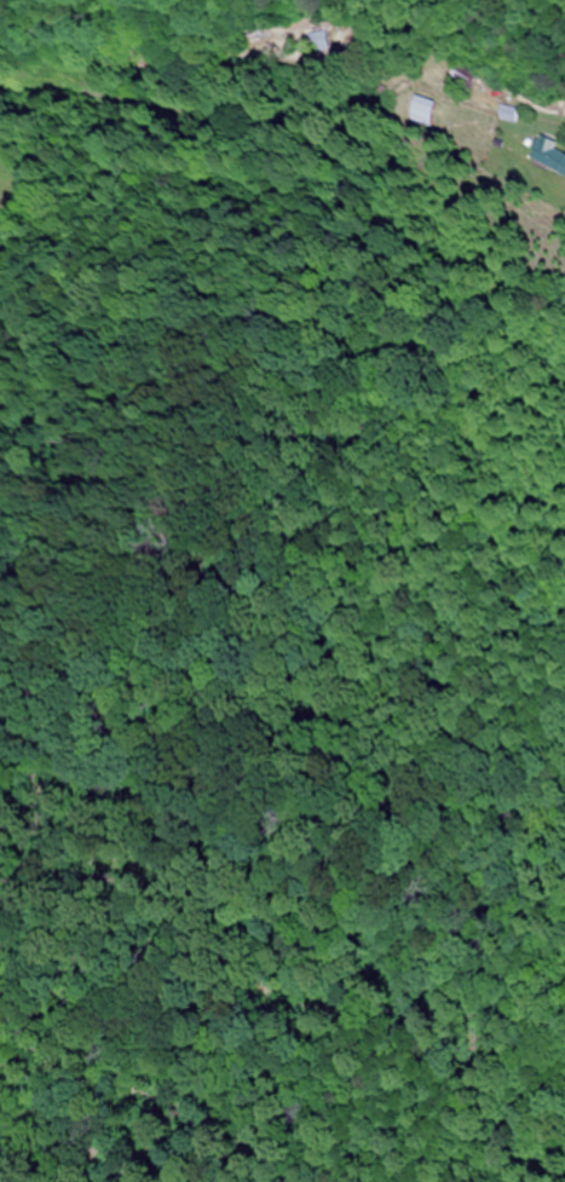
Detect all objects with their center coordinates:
building: (473, 77)
building: (421, 111)
building: (547, 155)

